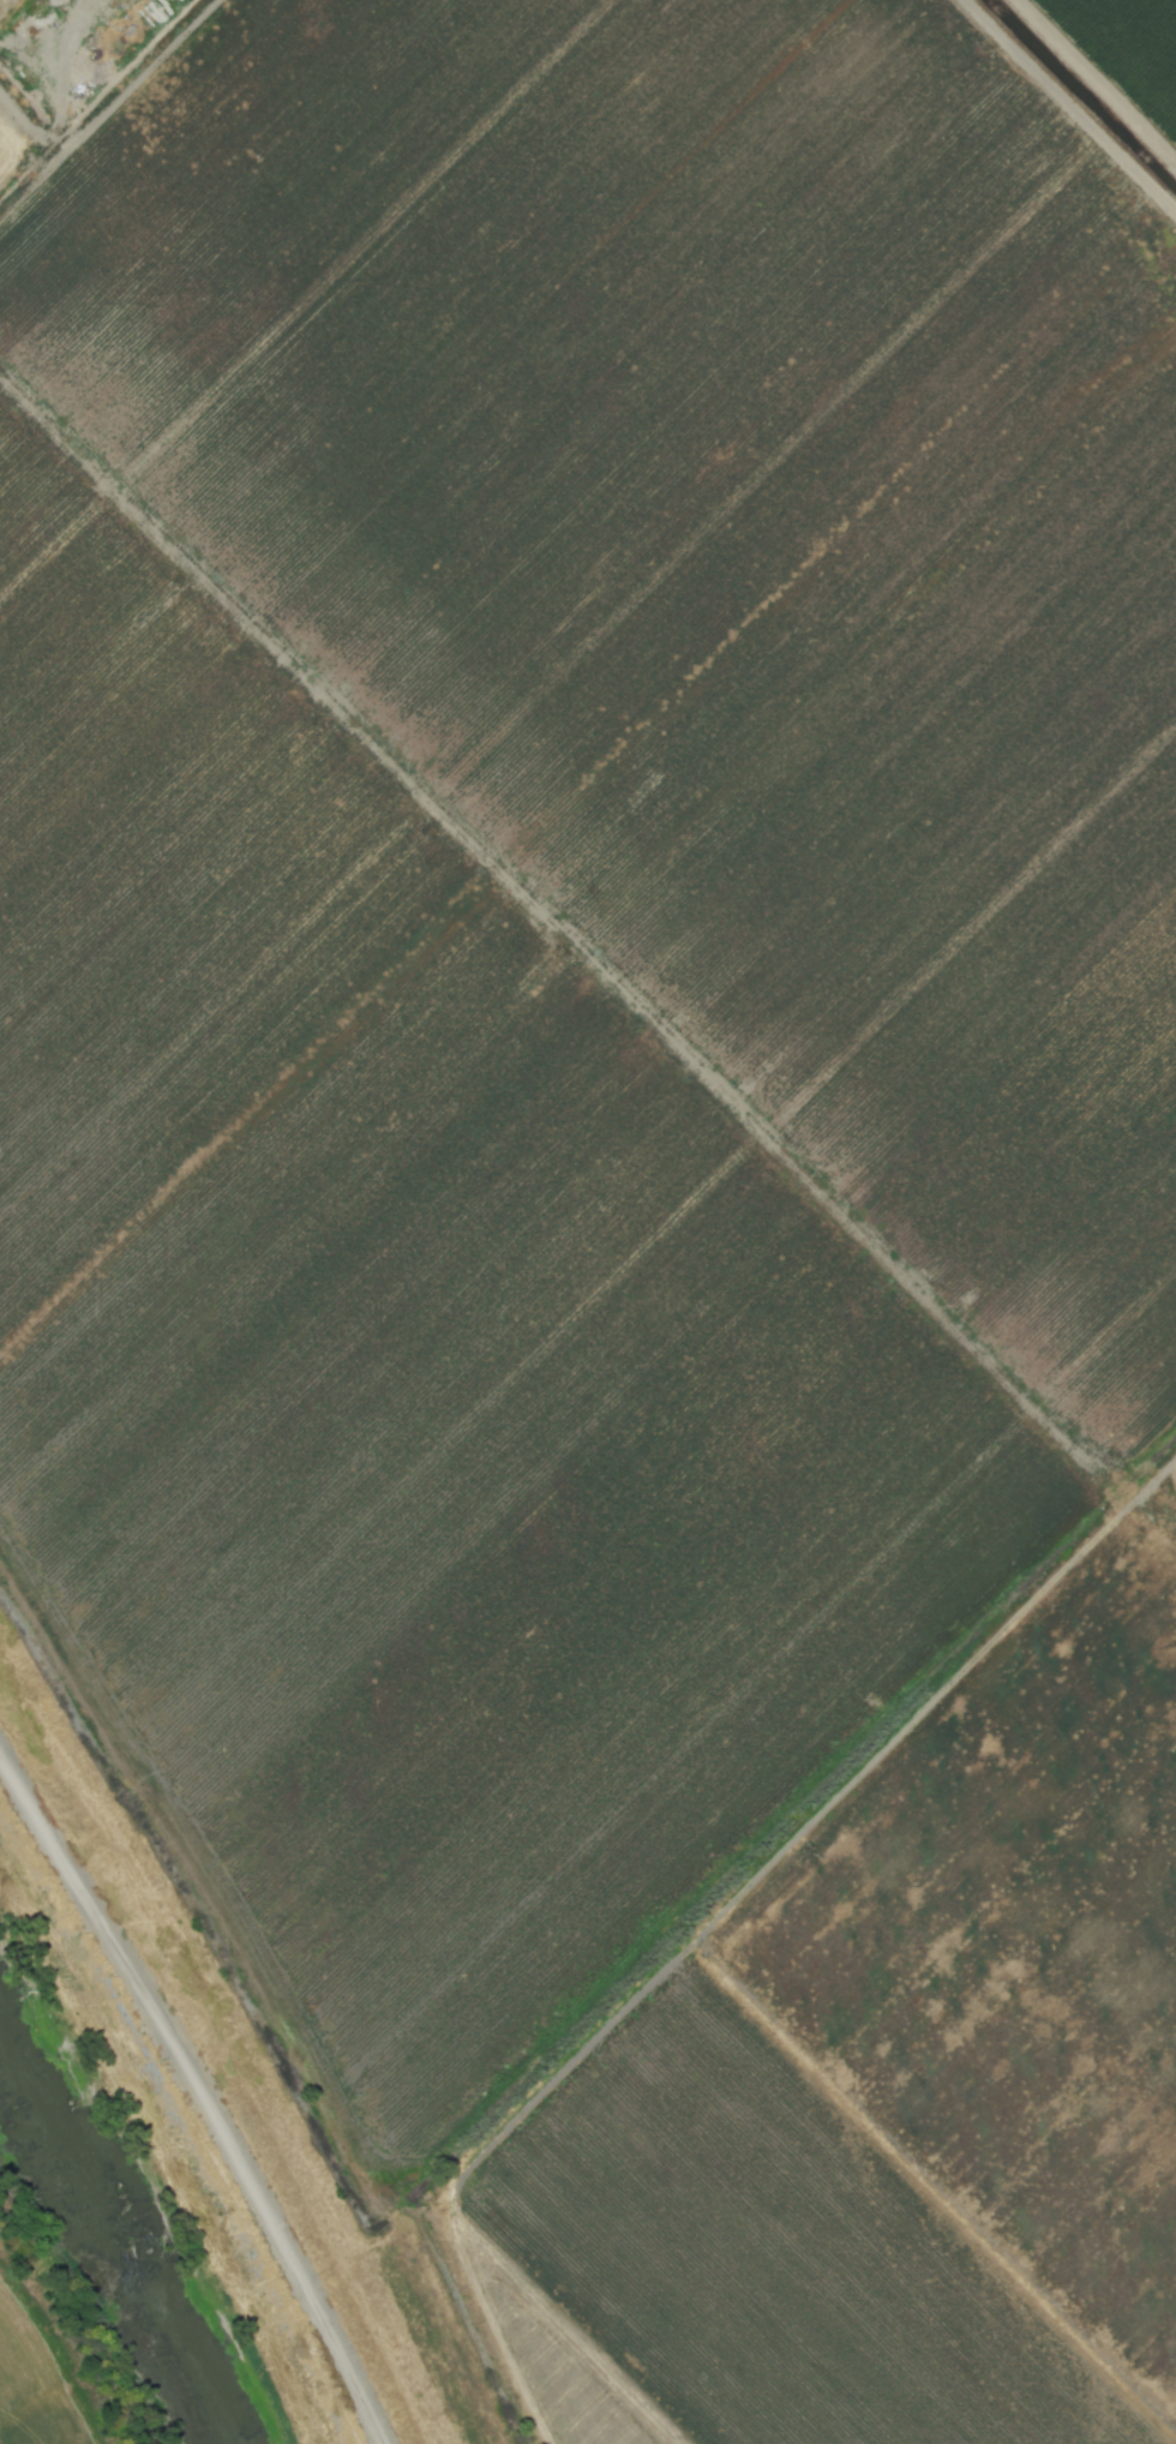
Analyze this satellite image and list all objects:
road: (149, 54)
road: (1085, 98)
crop: (616, 1163)
crop: (54, 2322)

